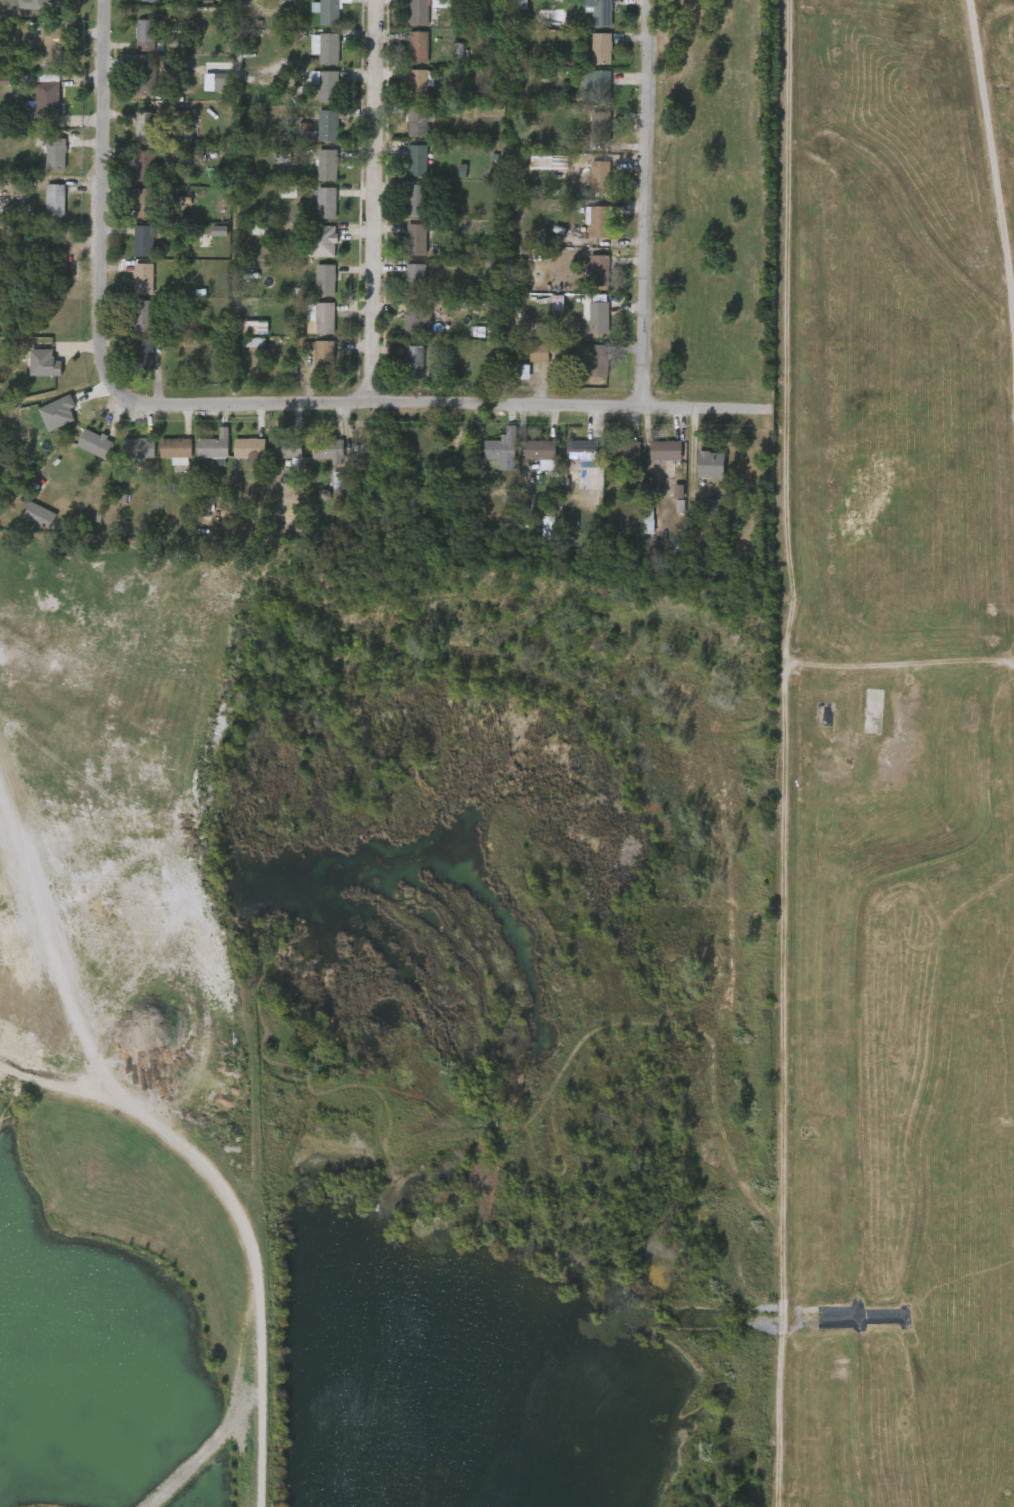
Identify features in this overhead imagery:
building: (153, 0)
building: (137, 4)
building: (41, 5)
road: (252, 9)
building: (330, 11)
building: (420, 12)
building: (602, 12)
building: (587, 17)
building: (145, 33)
building: (133, 42)
building: (50, 43)
building: (418, 46)
building: (328, 47)
building: (604, 48)
building: (406, 53)
building: (314, 55)
building: (589, 55)
building: (147, 80)
building: (420, 83)
building: (599, 85)
building: (132, 86)
building: (327, 86)
building: (406, 89)
building: (584, 89)
building: (314, 93)
building: (46, 97)
building: (35, 106)
building: (421, 119)
building: (331, 123)
building: (146, 126)
building: (406, 128)
building: (588, 129)
building: (602, 130)
building: (315, 132)
building: (132, 134)
building: (57, 152)
building: (419, 159)
building: (44, 160)
building: (144, 162)
building: (329, 163)
building: (405, 167)
building: (536, 168)
building: (133, 172)
building: (315, 172)
building: (601, 175)
building: (587, 183)
road: (106, 194)
building: (57, 199)
building: (417, 199)
road: (375, 201)
building: (146, 202)
building: (326, 203)
road: (656, 203)
building: (43, 206)
building: (404, 206)
building: (131, 210)
building: (314, 210)
building: (598, 219)
building: (585, 227)
building: (416, 239)
building: (328, 240)
building: (143, 241)
building: (404, 246)
building: (131, 248)
building: (310, 248)
building: (601, 268)
building: (584, 276)
building: (142, 279)
building: (415, 279)
building: (325, 280)
building: (403, 282)
building: (131, 285)
building: (313, 286)
building: (143, 313)
building: (599, 317)
building: (322, 318)
building: (415, 318)
building: (131, 322)
building: (586, 324)
building: (309, 325)
building: (404, 325)
building: (527, 337)
building: (544, 350)
building: (144, 353)
building: (323, 355)
building: (592, 356)
building: (527, 359)
building: (131, 360)
building: (413, 361)
building: (313, 363)
building: (402, 367)
building: (32, 370)
road: (1002, 377)
road: (437, 402)
building: (95, 442)
building: (216, 447)
building: (251, 447)
building: (288, 447)
building: (328, 448)
building: (140, 449)
building: (178, 449)
building: (498, 449)
building: (83, 450)
building: (540, 450)
building: (665, 450)
building: (202, 452)
building: (585, 452)
building: (624, 452)
building: (127, 454)
building: (237, 454)
building: (274, 455)
building: (164, 456)
building: (527, 456)
building: (568, 456)
building: (653, 457)
building: (316, 458)
building: (612, 458)
building: (488, 459)
building: (712, 464)
building: (698, 471)
building: (702, 513)
building: (41, 514)
building: (28, 522)
building: (535, 533)
road: (891, 670)
building: (876, 703)
road: (770, 753)

